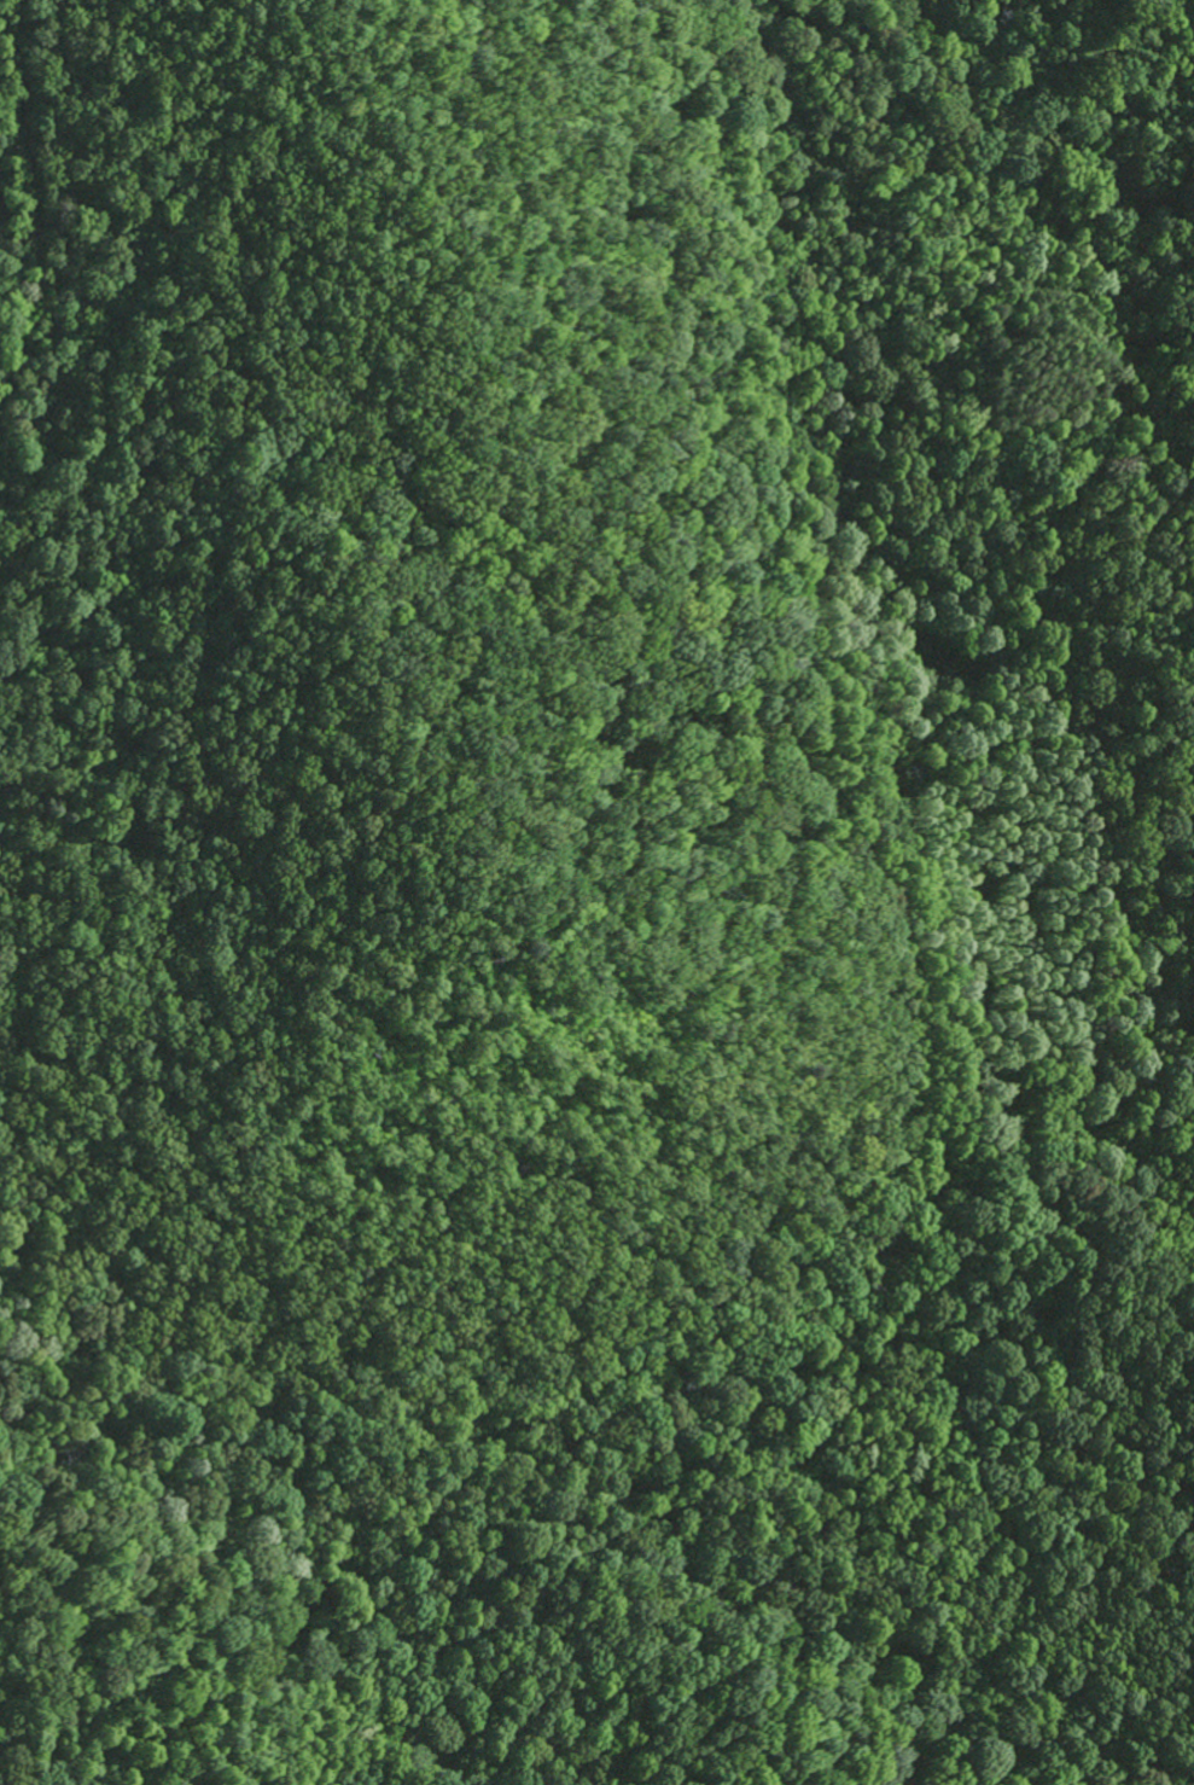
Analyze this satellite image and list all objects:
road: (23, 112)
road: (1189, 710)
road: (665, 1371)

